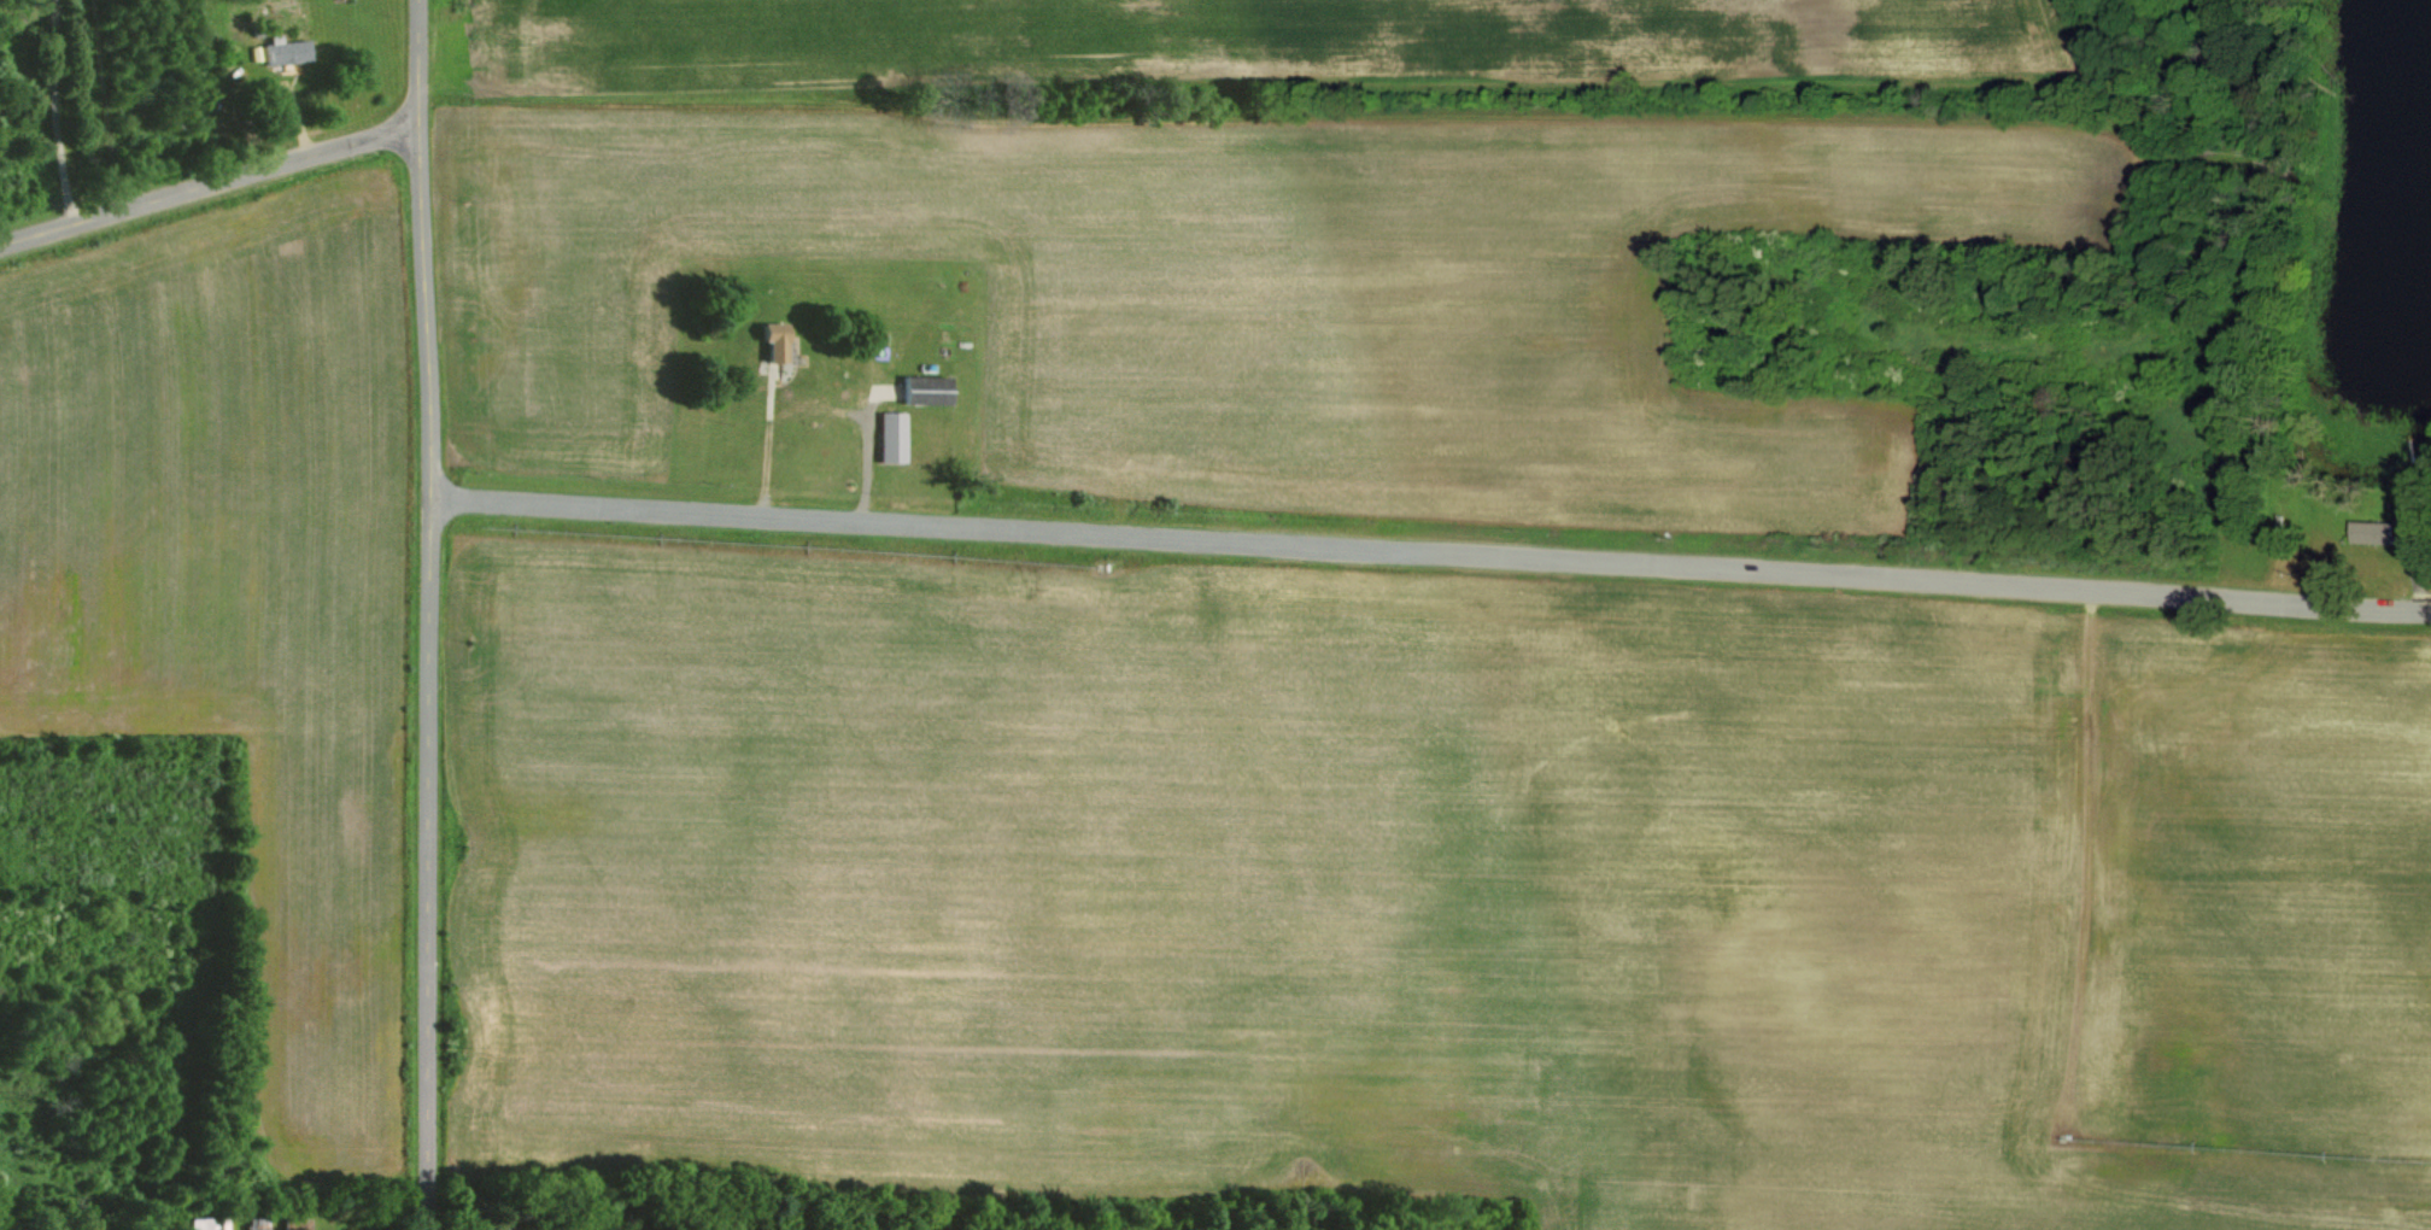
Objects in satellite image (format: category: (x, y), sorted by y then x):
building: (301, 52)
road: (77, 112)
road: (219, 187)
building: (769, 340)
building: (929, 389)
building: (892, 437)
building: (2363, 532)
road: (1436, 557)
road: (441, 615)
building: (203, 1223)
building: (258, 1223)
building: (299, 1223)
road: (29, 1228)

